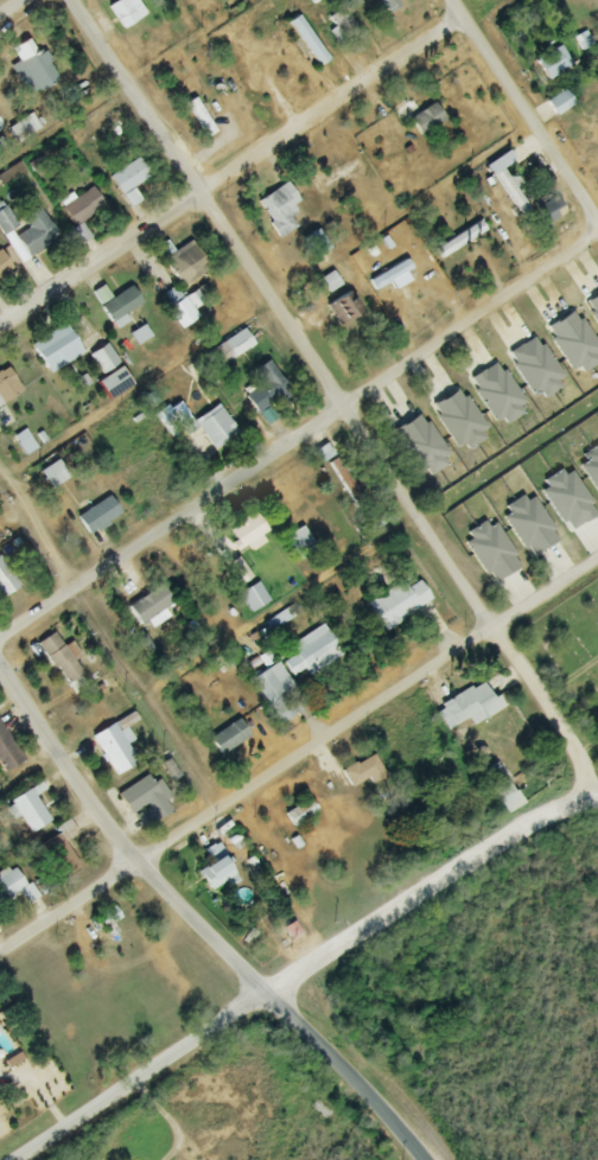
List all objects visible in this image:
building: (390, 8)
road: (18, 9)
building: (125, 12)
building: (342, 25)
building: (306, 42)
building: (558, 103)
road: (522, 115)
building: (198, 119)
building: (425, 120)
building: (21, 128)
road: (230, 174)
building: (81, 209)
building: (278, 211)
building: (548, 211)
building: (34, 234)
building: (458, 241)
building: (182, 266)
building: (4, 267)
building: (381, 288)
building: (119, 307)
building: (176, 307)
building: (341, 307)
building: (228, 349)
building: (55, 350)
building: (101, 359)
building: (113, 383)
building: (7, 387)
building: (265, 389)
road: (332, 391)
building: (208, 435)
road: (300, 438)
building: (23, 442)
building: (51, 474)
building: (96, 516)
building: (246, 531)
building: (299, 544)
building: (396, 603)
building: (146, 606)
road: (108, 645)
building: (311, 654)
park: (570, 655)
building: (57, 659)
building: (276, 697)
building: (467, 707)
building: (227, 739)
building: (113, 750)
road: (298, 750)
road: (27, 772)
building: (361, 772)
road: (594, 784)
building: (500, 789)
building: (142, 802)
building: (298, 815)
building: (21, 821)
road: (119, 842)
building: (56, 849)
building: (215, 869)
building: (9, 885)
building: (107, 923)
road: (299, 970)
building: (7, 1053)
road: (346, 1073)
road: (167, 1116)

